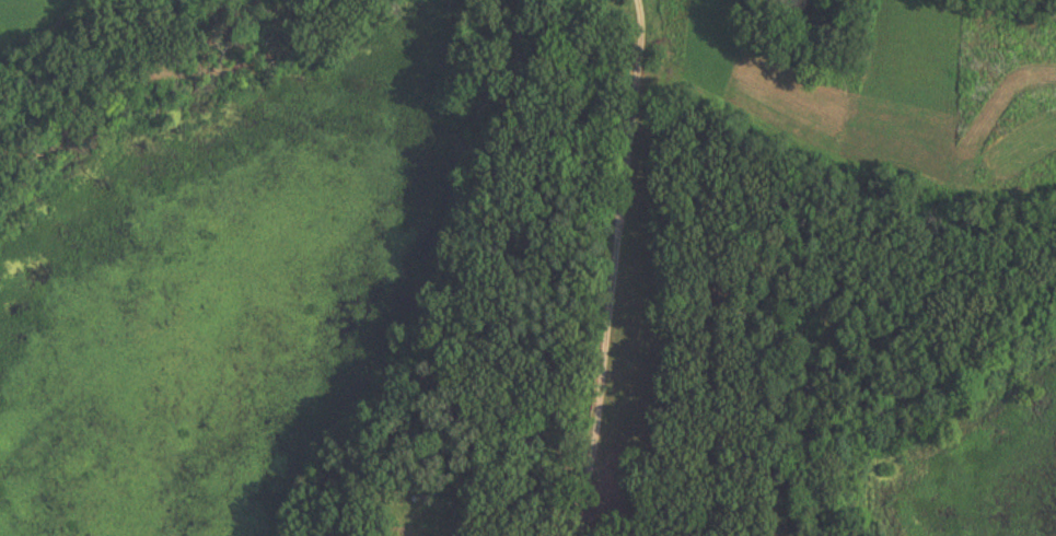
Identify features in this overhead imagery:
road: (627, 273)

